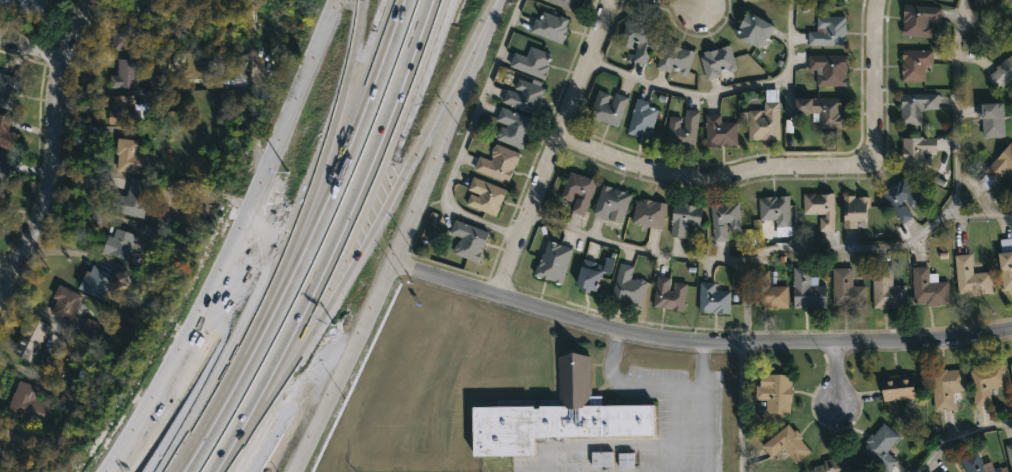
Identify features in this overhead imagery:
building: (743, 0)
building: (844, 0)
building: (567, 4)
building: (23, 5)
road: (675, 6)
building: (147, 7)
building: (919, 20)
building: (550, 27)
building: (754, 30)
building: (828, 31)
building: (122, 35)
building: (638, 39)
road: (30, 47)
building: (674, 59)
building: (717, 62)
building: (531, 63)
building: (915, 64)
building: (828, 69)
building: (1002, 74)
building: (123, 75)
road: (720, 87)
road: (453, 88)
building: (8, 91)
building: (524, 97)
building: (915, 107)
building: (607, 108)
road: (334, 110)
building: (122, 111)
building: (821, 111)
building: (992, 119)
building: (642, 120)
building: (764, 123)
building: (512, 128)
building: (682, 130)
building: (719, 131)
building: (6, 134)
road: (464, 138)
road: (47, 139)
road: (550, 146)
building: (916, 150)
road: (377, 156)
building: (131, 158)
building: (497, 164)
building: (998, 167)
building: (5, 168)
road: (788, 170)
road: (402, 173)
building: (577, 191)
road: (974, 192)
building: (484, 196)
building: (1, 197)
building: (131, 200)
building: (900, 200)
building: (611, 204)
building: (820, 209)
building: (775, 210)
building: (854, 211)
building: (649, 214)
road: (979, 216)
building: (684, 218)
building: (724, 220)
road: (402, 238)
building: (468, 241)
road: (299, 242)
road: (232, 243)
building: (112, 244)
road: (844, 247)
road: (286, 262)
building: (553, 263)
building: (1006, 264)
building: (607, 265)
road: (1, 269)
road: (340, 270)
building: (588, 278)
building: (971, 278)
building: (99, 282)
building: (628, 287)
building: (928, 288)
building: (846, 290)
building: (886, 290)
building: (769, 291)
building: (807, 291)
building: (669, 295)
building: (713, 299)
building: (63, 303)
building: (28, 338)
road: (697, 346)
road: (702, 353)
building: (1011, 362)
building: (1011, 368)
road: (701, 374)
road: (829, 379)
building: (987, 382)
road: (632, 383)
building: (898, 386)
building: (947, 386)
road: (265, 390)
building: (775, 392)
building: (28, 404)
building: (557, 415)
road: (706, 429)
road: (958, 434)
building: (786, 443)
building: (8, 444)
building: (881, 446)
building: (1009, 453)
building: (601, 459)
building: (973, 463)
building: (838, 464)
building: (995, 469)
building: (942, 471)

